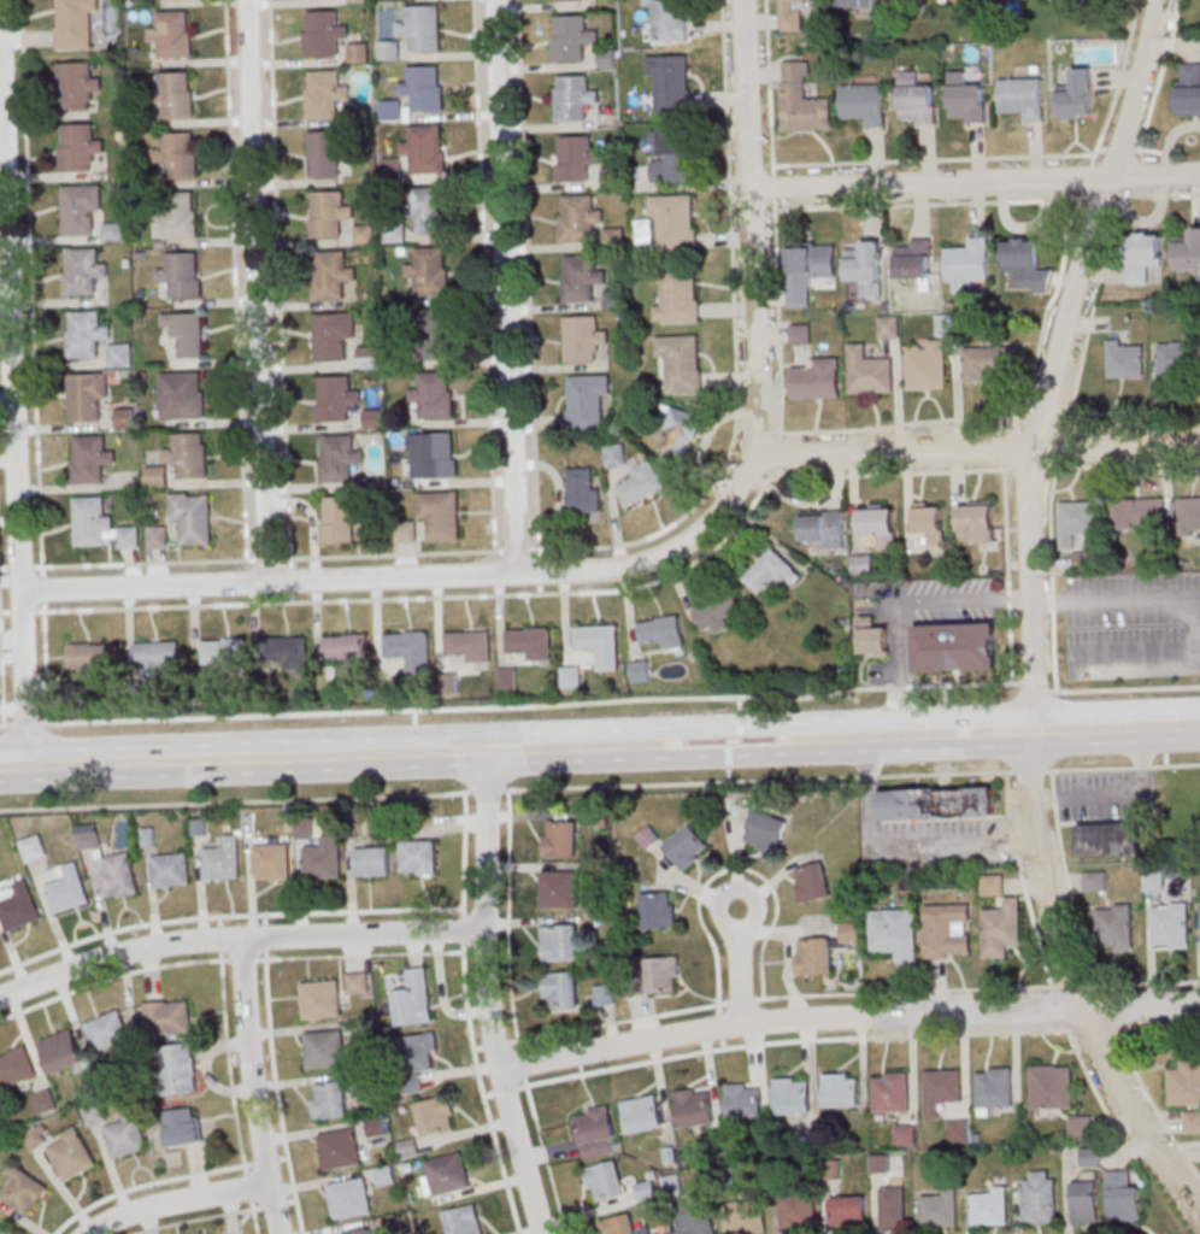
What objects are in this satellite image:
building: (569, 0)
building: (907, 0)
building: (857, 2)
building: (793, 14)
building: (670, 19)
building: (78, 23)
road: (20, 24)
building: (422, 27)
building: (324, 33)
building: (173, 34)
building: (572, 37)
building: (390, 49)
building: (359, 52)
building: (671, 81)
road: (1118, 83)
building: (78, 84)
building: (424, 87)
building: (1189, 88)
building: (328, 93)
building: (178, 94)
building: (1077, 94)
building: (575, 96)
building: (1023, 96)
building: (966, 98)
building: (917, 99)
building: (802, 100)
building: (863, 102)
building: (392, 108)
building: (80, 146)
building: (427, 148)
building: (327, 153)
building: (672, 153)
building: (180, 154)
building: (575, 157)
road: (934, 159)
building: (612, 176)
road: (975, 182)
building: (83, 208)
building: (430, 210)
building: (330, 213)
building: (182, 215)
building: (580, 217)
building: (676, 221)
road: (753, 228)
building: (614, 236)
road: (776, 239)
building: (1188, 251)
building: (1143, 254)
building: (914, 258)
building: (970, 264)
building: (1027, 264)
building: (865, 266)
building: (807, 268)
building: (84, 270)
building: (430, 270)
building: (183, 274)
building: (333, 274)
road: (528, 275)
building: (582, 277)
road: (280, 280)
road: (483, 280)
road: (236, 284)
road: (507, 287)
road: (259, 292)
building: (677, 293)
road: (1089, 318)
building: (946, 323)
building: (888, 327)
road: (33, 329)
building: (188, 333)
building: (437, 333)
building: (799, 334)
building: (334, 335)
building: (94, 337)
building: (583, 339)
road: (735, 346)
building: (1125, 358)
building: (1175, 358)
building: (682, 360)
building: (990, 362)
building: (925, 364)
building: (869, 371)
road: (1033, 372)
building: (816, 378)
road: (13, 389)
building: (183, 394)
building: (434, 394)
building: (88, 395)
building: (336, 398)
building: (587, 401)
road: (989, 416)
building: (125, 418)
building: (683, 431)
road: (1010, 441)
road: (1061, 443)
road: (976, 449)
building: (189, 454)
building: (437, 454)
building: (614, 454)
building: (90, 458)
building: (339, 458)
road: (889, 472)
building: (157, 476)
building: (641, 483)
building: (582, 489)
road: (1049, 503)
building: (1137, 512)
building: (441, 515)
building: (1189, 515)
building: (193, 517)
building: (341, 518)
building: (1077, 519)
building: (929, 521)
building: (976, 521)
building: (878, 524)
building: (100, 525)
building: (820, 528)
building: (158, 536)
road: (517, 550)
road: (390, 554)
road: (266, 558)
road: (148, 563)
building: (863, 564)
building: (770, 571)
road: (1008, 575)
road: (412, 578)
road: (42, 590)
road: (428, 597)
road: (1141, 598)
road: (896, 604)
building: (718, 611)
road: (1030, 619)
building: (661, 631)
building: (872, 637)
building: (529, 642)
building: (599, 644)
building: (469, 645)
building: (408, 646)
building: (345, 647)
building: (954, 647)
building: (284, 648)
building: (223, 650)
road: (1133, 654)
building: (90, 656)
building: (155, 657)
road: (45, 662)
building: (641, 670)
building: (571, 676)
road: (1, 678)
building: (507, 681)
road: (1035, 687)
road: (1125, 687)
road: (531, 705)
road: (27, 724)
road: (5, 727)
road: (599, 747)
road: (851, 776)
road: (487, 789)
road: (236, 800)
building: (935, 803)
building: (304, 827)
building: (761, 828)
building: (88, 836)
building: (559, 838)
building: (1108, 839)
road: (900, 845)
building: (686, 846)
building: (34, 847)
road: (463, 853)
building: (417, 857)
building: (323, 858)
building: (222, 859)
building: (271, 860)
building: (372, 860)
road: (728, 869)
building: (170, 870)
building: (118, 875)
building: (1094, 880)
building: (810, 882)
road: (1022, 882)
building: (559, 888)
building: (67, 889)
building: (19, 907)
building: (658, 909)
road: (227, 915)
building: (1170, 924)
building: (1113, 927)
building: (1000, 928)
building: (946, 930)
road: (461, 932)
building: (849, 932)
building: (894, 932)
road: (236, 940)
building: (558, 942)
road: (359, 953)
building: (812, 954)
road: (242, 957)
road: (739, 963)
building: (661, 974)
road: (111, 979)
building: (355, 982)
road: (1140, 982)
road: (1069, 986)
building: (559, 988)
road: (905, 989)
building: (604, 994)
road: (486, 995)
building: (318, 999)
building: (411, 1000)
road: (740, 1000)
road: (1058, 1006)
road: (511, 1013)
road: (1114, 1015)
building: (169, 1016)
road: (847, 1018)
road: (718, 1021)
road: (611, 1023)
road: (1154, 1027)
road: (1093, 1028)
building: (107, 1030)
road: (794, 1040)
building: (323, 1050)
building: (61, 1051)
building: (420, 1051)
road: (228, 1064)
building: (16, 1066)
building: (180, 1068)
building: (365, 1079)
building: (410, 1083)
building: (1184, 1083)
building: (1051, 1086)
road: (252, 1087)
road: (510, 1087)
building: (993, 1087)
building: (840, 1089)
building: (941, 1089)
road: (1094, 1089)
building: (890, 1091)
road: (481, 1093)
road: (277, 1095)
building: (790, 1095)
building: (330, 1099)
building: (45, 1100)
building: (742, 1100)
road: (1152, 1100)
building: (693, 1106)
building: (94, 1113)
building: (641, 1113)
building: (433, 1116)
building: (1190, 1121)
building: (1080, 1124)
building: (183, 1126)
building: (373, 1126)
building: (958, 1129)
building: (595, 1130)
building: (127, 1134)
building: (905, 1134)
building: (407, 1148)
building: (64, 1150)
building: (339, 1150)
building: (1090, 1156)
road: (259, 1162)
building: (447, 1174)
building: (383, 1175)
building: (605, 1180)
road: (247, 1183)
building: (671, 1183)
road: (148, 1185)
building: (646, 1189)
building: (24, 1191)
building: (1039, 1197)
building: (1123, 1197)
building: (348, 1199)
road: (178, 1203)
building: (1084, 1203)
road: (266, 1205)
building: (989, 1205)
building: (939, 1206)
building: (893, 1207)
building: (846, 1210)
building: (796, 1211)
road: (254, 1215)
building: (695, 1217)
building: (747, 1217)
road: (196, 1220)
building: (461, 1221)
building: (620, 1224)
building: (5, 1228)
building: (359, 1232)
building: (658, 1233)

